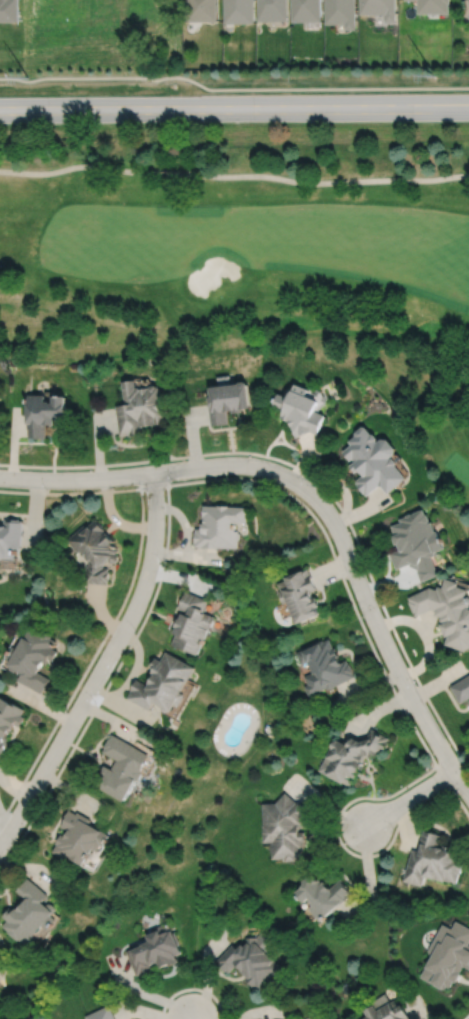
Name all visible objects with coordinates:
building: (432, 5)
building: (379, 8)
building: (9, 10)
building: (202, 10)
building: (239, 10)
building: (274, 10)
building: (308, 10)
building: (342, 12)
power tower: (27, 77)
power tower: (436, 77)
road: (232, 87)
road: (234, 108)
road: (234, 175)
park: (251, 262)
building: (229, 401)
building: (140, 408)
building: (302, 409)
building: (45, 413)
building: (375, 460)
road: (317, 482)
road: (153, 486)
road: (318, 501)
road: (318, 523)
building: (221, 524)
building: (10, 536)
building: (417, 542)
building: (95, 549)
building: (301, 594)
road: (124, 598)
building: (447, 609)
building: (193, 622)
building: (34, 657)
building: (325, 666)
road: (102, 667)
building: (164, 683)
building: (462, 688)
building: (8, 720)
building: (353, 756)
building: (122, 767)
road: (231, 776)
road: (443, 776)
road: (409, 797)
building: (287, 827)
building: (79, 837)
building: (433, 860)
building: (325, 896)
building: (28, 913)
building: (155, 951)
building: (448, 955)
building: (252, 960)
road: (191, 988)
building: (385, 1009)
building: (100, 1014)
road: (466, 1016)
road: (191, 1018)

